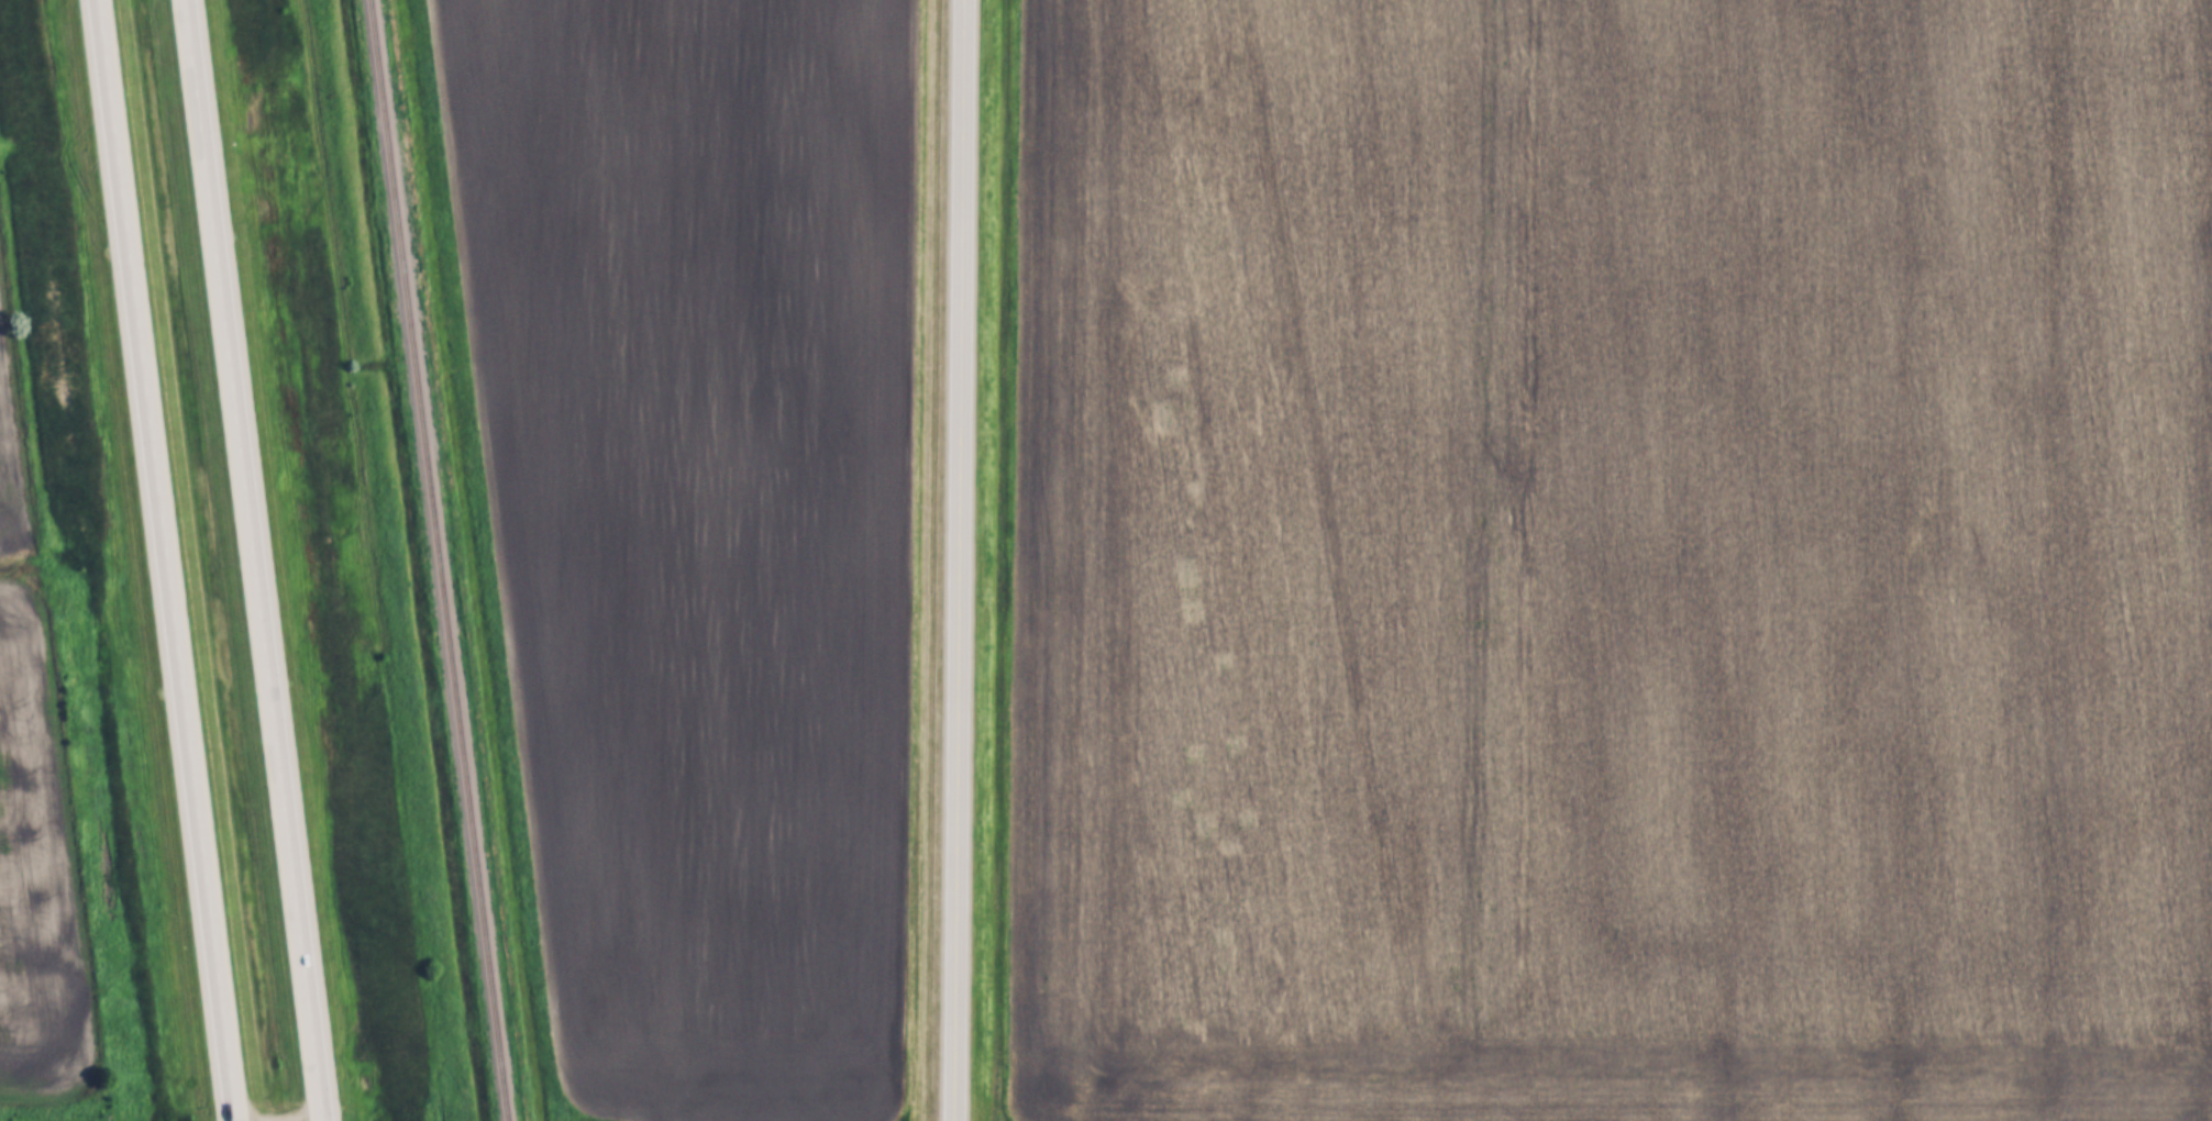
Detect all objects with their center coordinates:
road: (165, 560)
road: (251, 560)
railway: (436, 560)
road: (964, 560)

